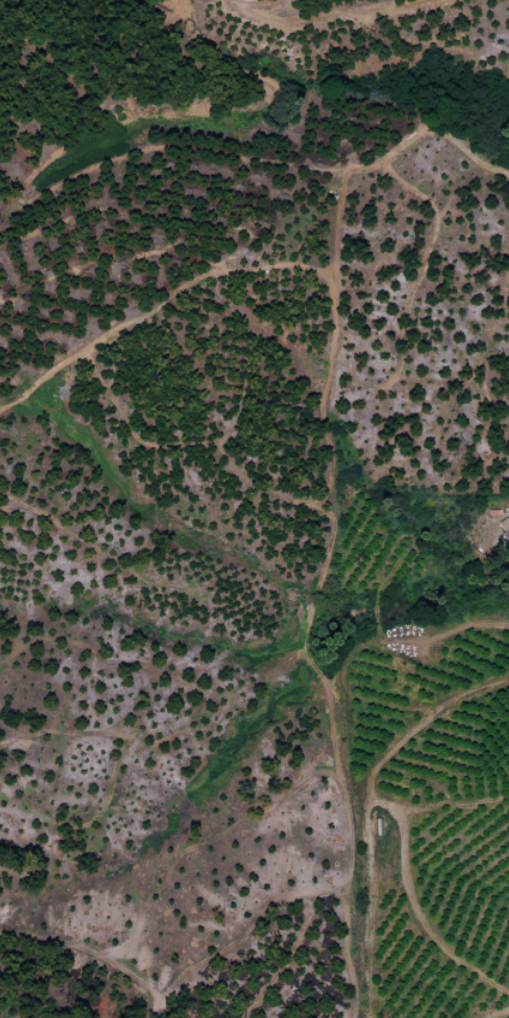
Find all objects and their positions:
building: (504, 528)

